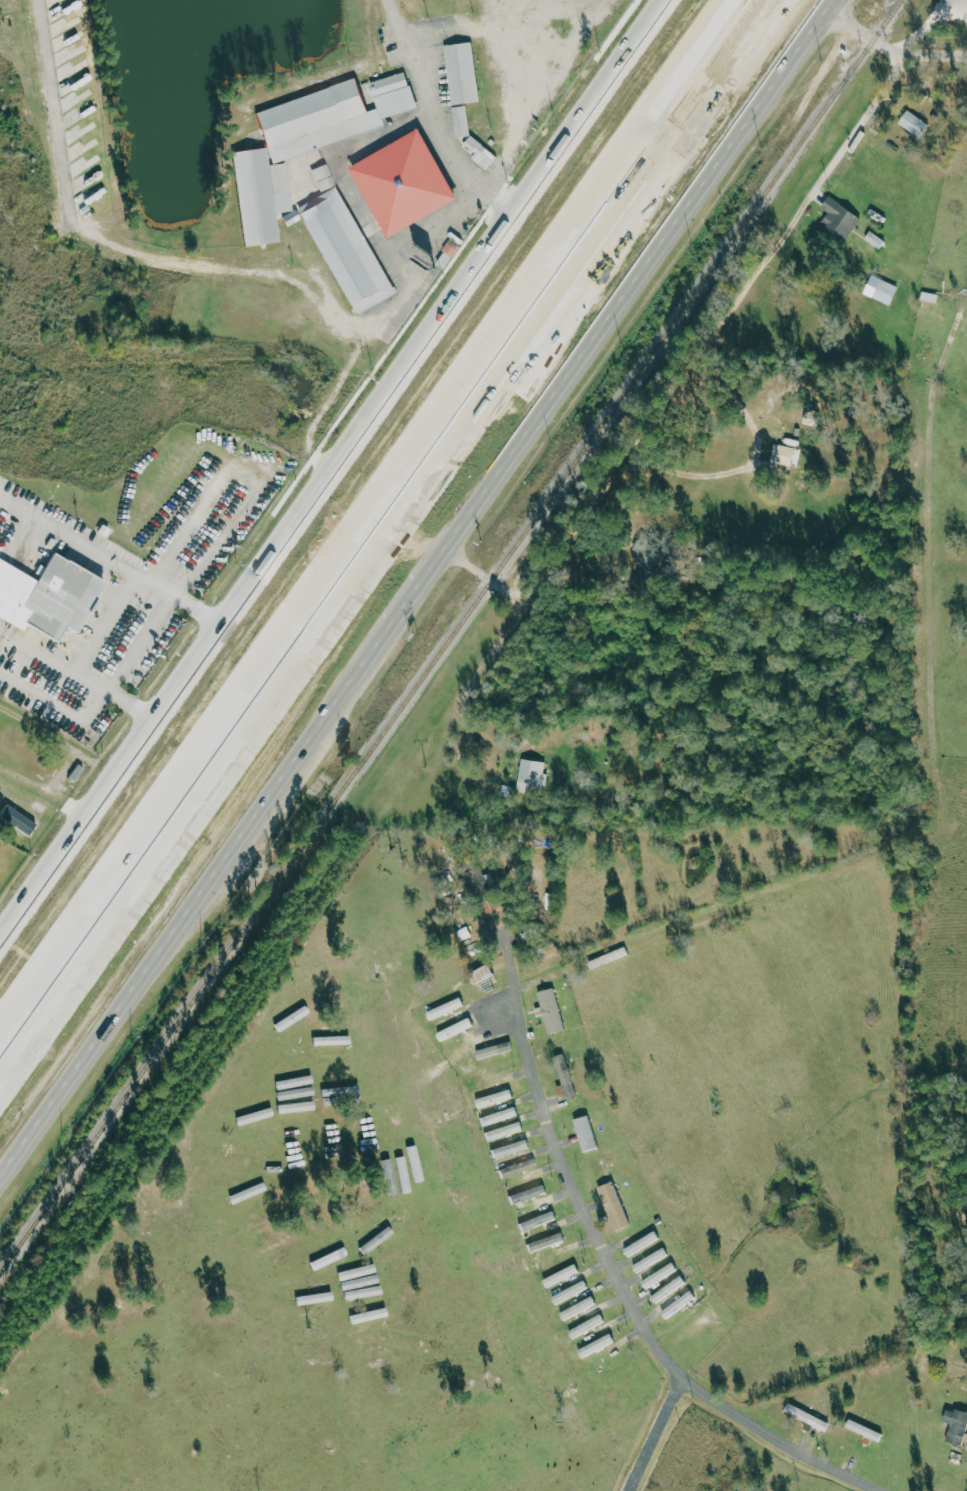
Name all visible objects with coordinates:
road: (835, 7)
road: (868, 37)
road: (938, 55)
building: (463, 74)
building: (334, 114)
road: (66, 115)
road: (441, 118)
building: (914, 123)
road: (573, 135)
building: (481, 153)
building: (406, 184)
building: (260, 197)
road: (651, 217)
building: (839, 219)
building: (876, 240)
building: (348, 251)
road: (304, 279)
building: (881, 290)
building: (930, 297)
road: (689, 365)
road: (404, 372)
building: (788, 456)
road: (754, 461)
road: (113, 561)
building: (48, 597)
road: (413, 600)
road: (270, 609)
railway: (451, 636)
road: (144, 643)
road: (468, 687)
road: (167, 715)
road: (88, 718)
road: (86, 762)
road: (238, 762)
building: (533, 777)
road: (47, 791)
building: (30, 826)
road: (2, 947)
building: (481, 975)
building: (547, 978)
road: (33, 994)
building: (445, 1009)
building: (551, 1010)
building: (292, 1019)
building: (455, 1029)
building: (494, 1050)
building: (566, 1076)
building: (495, 1098)
building: (297, 1107)
building: (504, 1115)
building: (256, 1116)
building: (505, 1131)
building: (586, 1133)
building: (511, 1149)
building: (416, 1163)
building: (519, 1168)
building: (404, 1174)
building: (392, 1189)
building: (248, 1192)
building: (528, 1194)
building: (613, 1205)
building: (538, 1221)
building: (546, 1242)
building: (330, 1259)
road: (615, 1268)
building: (561, 1276)
building: (657, 1277)
building: (571, 1292)
building: (664, 1292)
building: (316, 1298)
building: (678, 1305)
building: (579, 1308)
building: (376, 1314)
building: (587, 1326)
building: (597, 1346)
building: (807, 1417)
building: (956, 1426)
building: (864, 1430)

